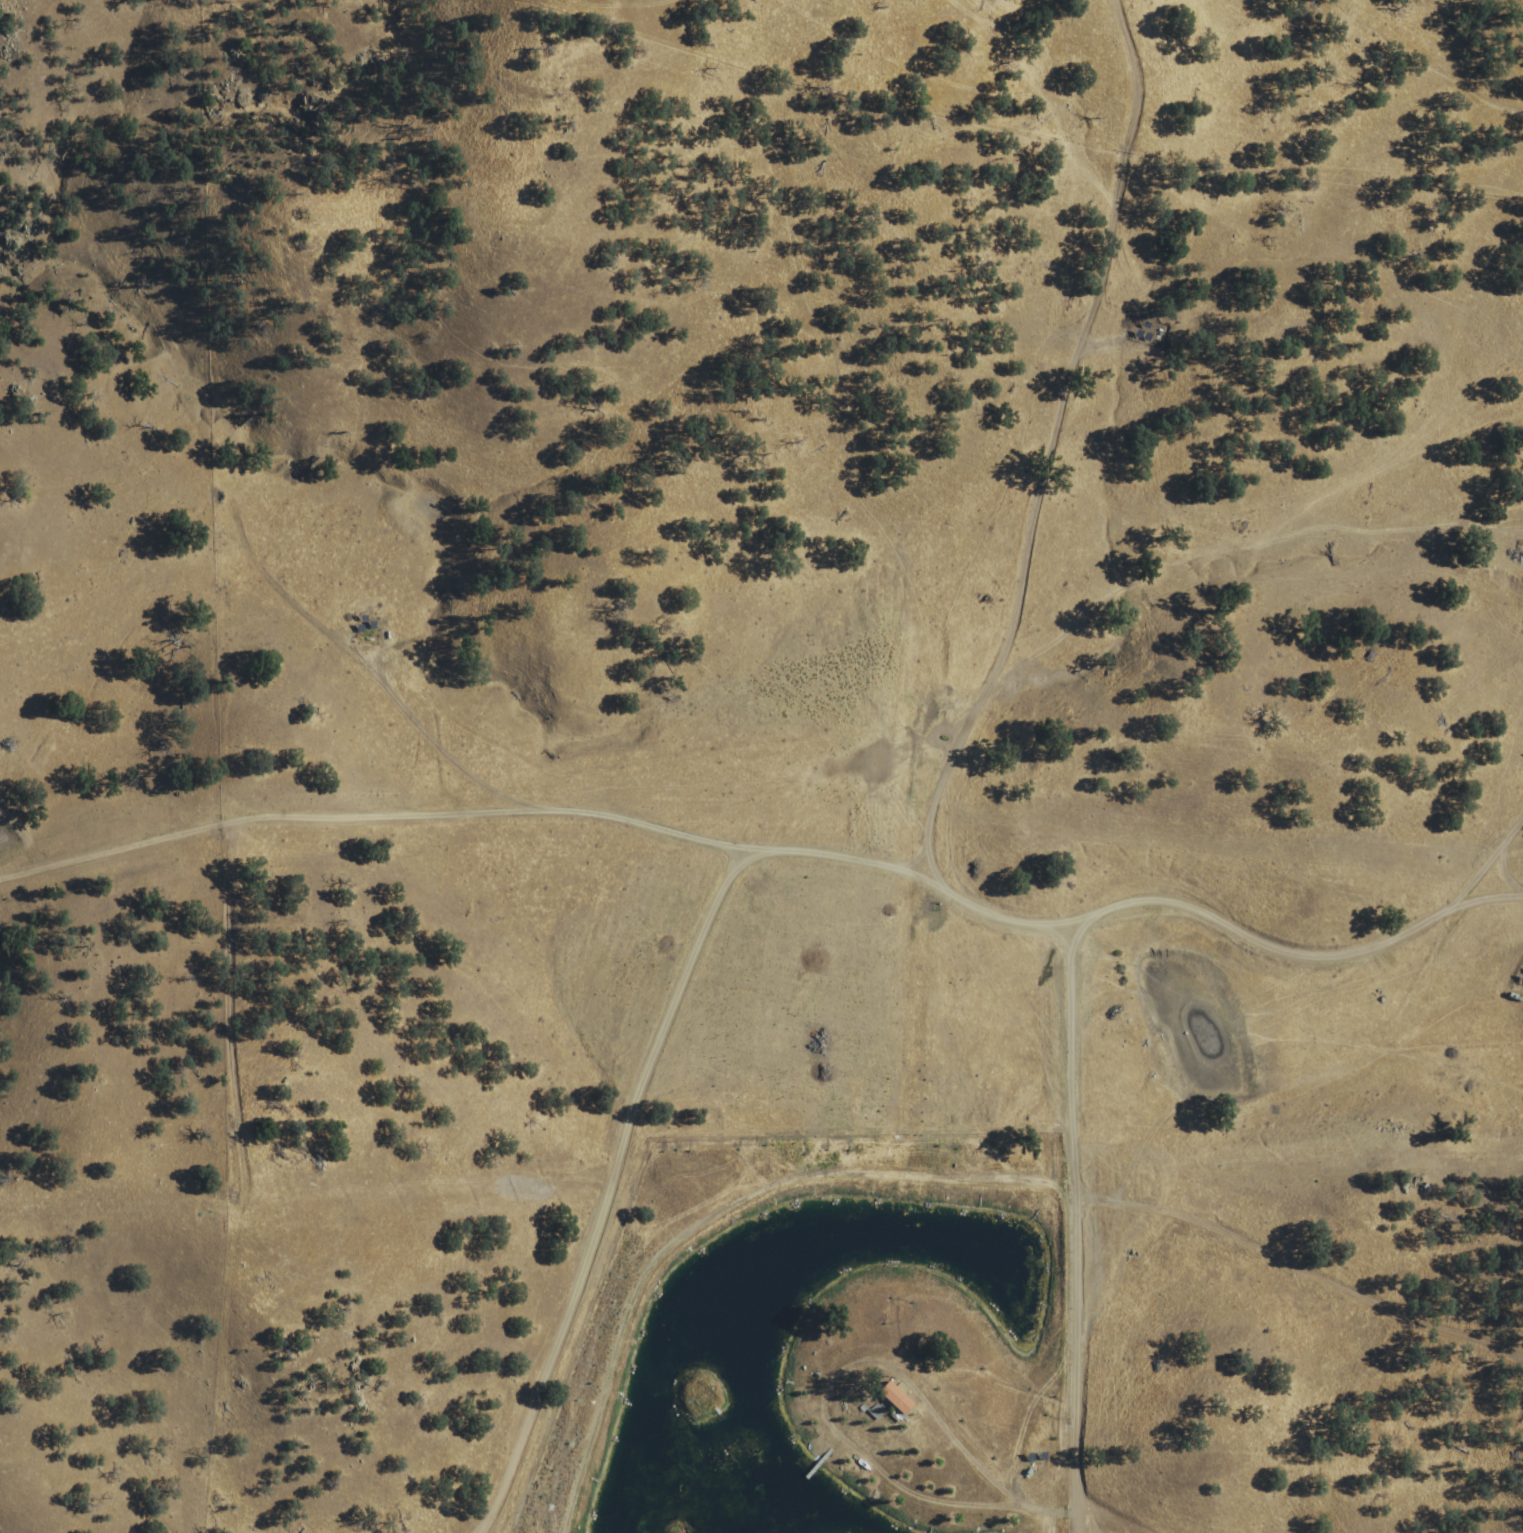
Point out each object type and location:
road: (1011, 343)
road: (18, 841)
road: (783, 862)
road: (614, 1191)
road: (1083, 1239)
building: (890, 1397)
building: (871, 1412)

